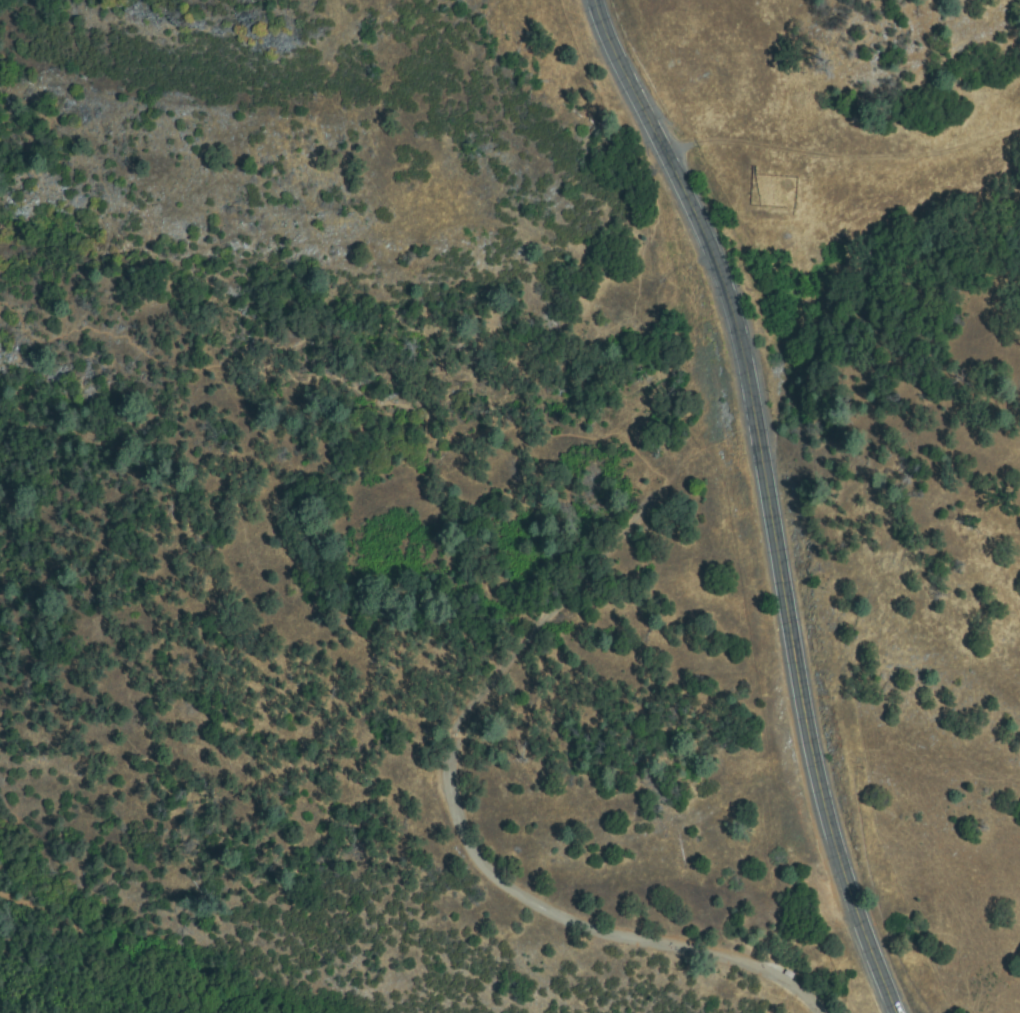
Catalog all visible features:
road: (411, 484)
road: (767, 498)
road: (603, 932)
road: (99, 958)

